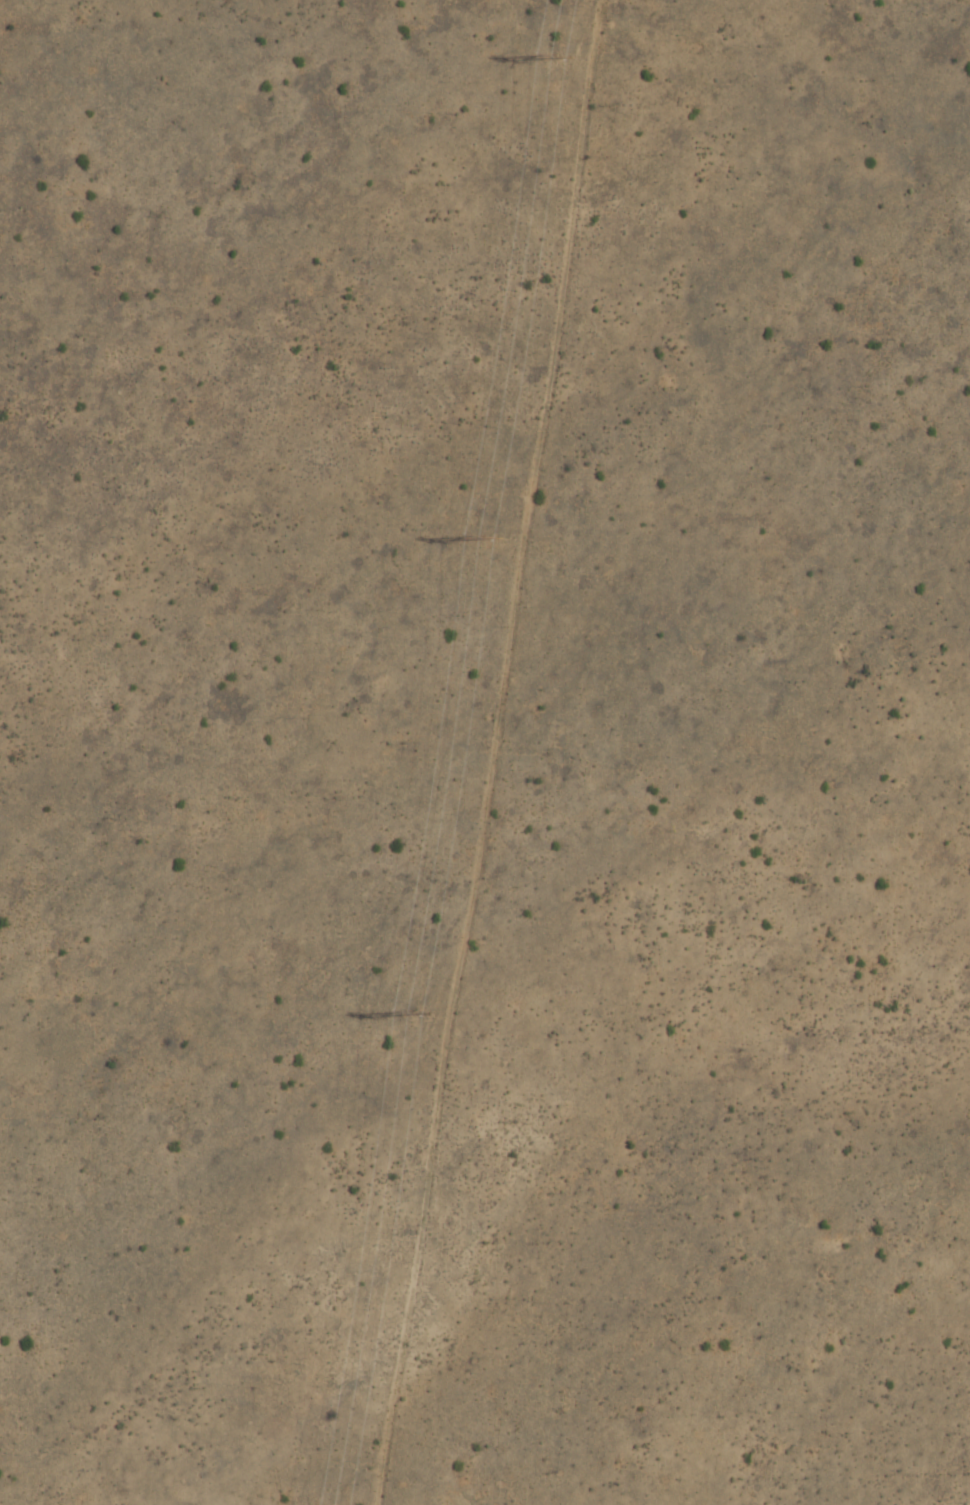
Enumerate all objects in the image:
power tower: (568, 57)
power tower: (497, 537)
power tower: (423, 1013)

